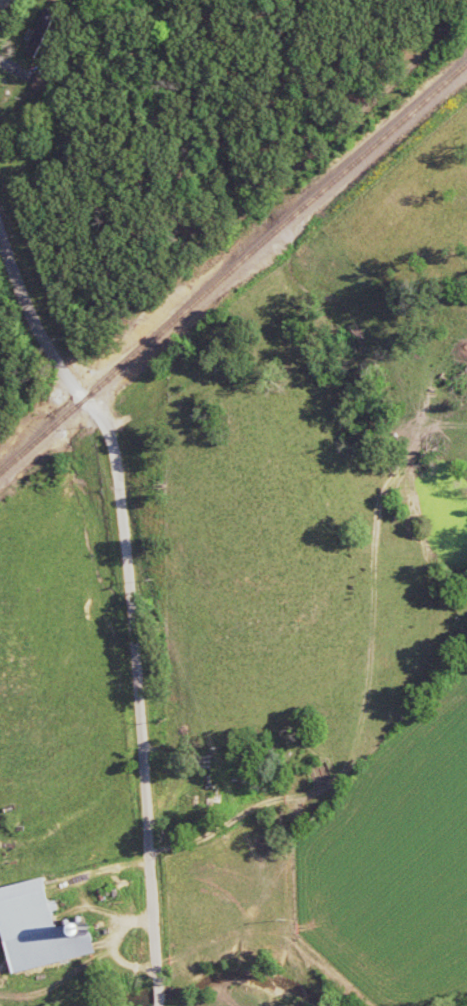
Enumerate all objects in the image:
road: (2, 3)
building: (46, 30)
railway: (232, 268)
road: (122, 613)

